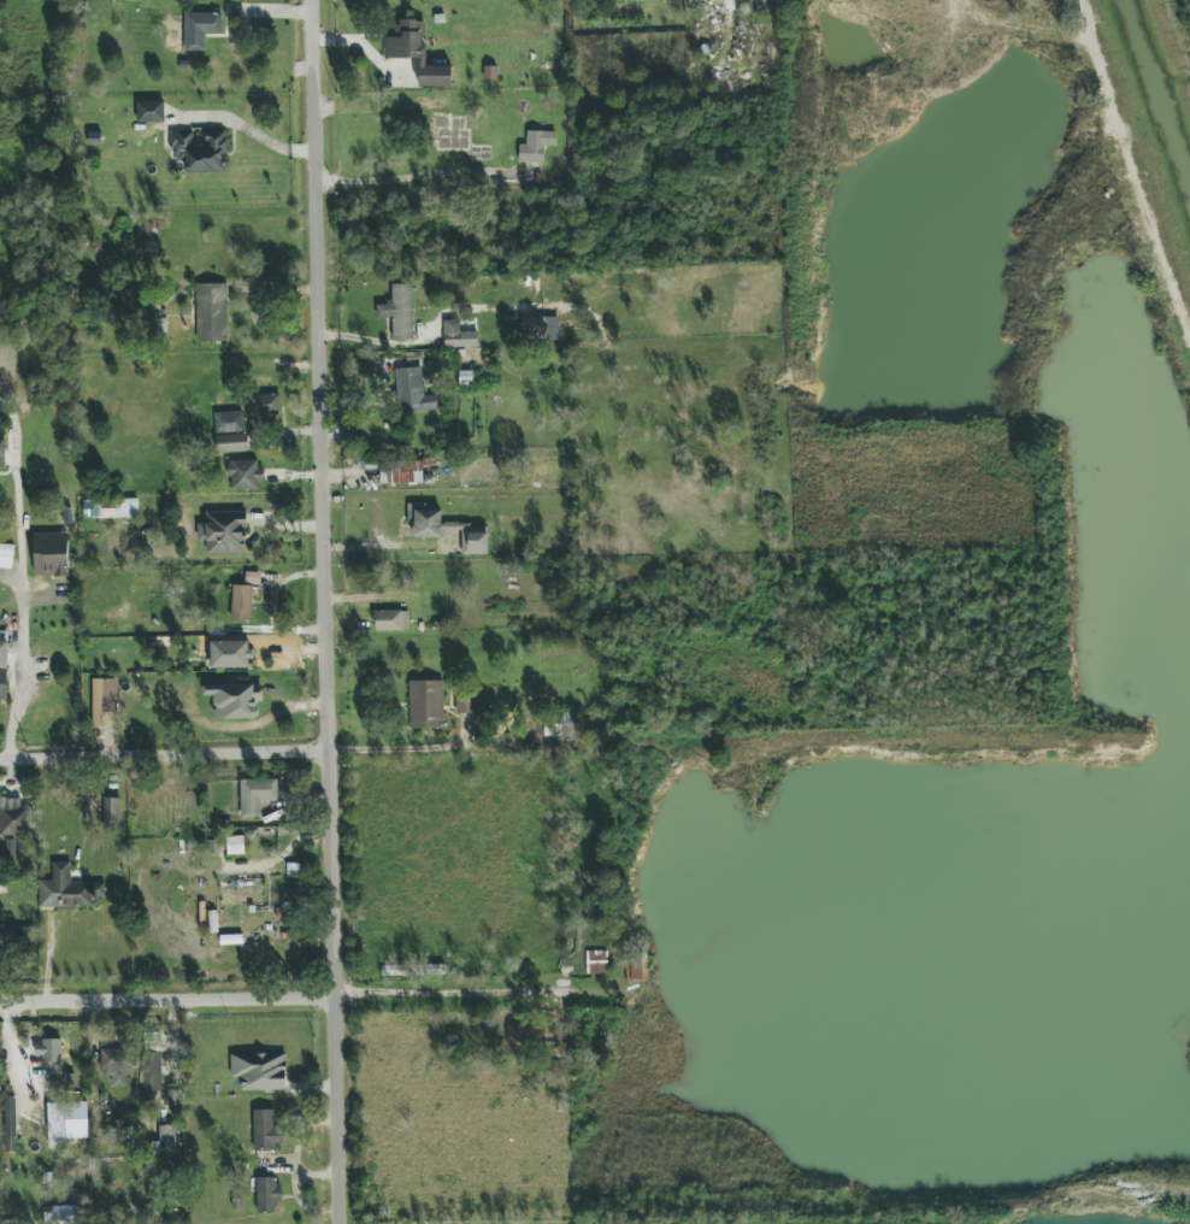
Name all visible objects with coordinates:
building: (200, 29)
building: (417, 53)
building: (151, 111)
road: (260, 134)
building: (536, 146)
building: (200, 151)
road: (413, 176)
building: (400, 311)
building: (211, 312)
building: (541, 328)
building: (458, 335)
building: (413, 392)
road: (11, 402)
building: (266, 404)
building: (229, 422)
building: (231, 443)
building: (2, 448)
building: (400, 471)
building: (245, 475)
building: (111, 507)
building: (424, 522)
building: (224, 532)
building: (471, 537)
building: (51, 554)
building: (6, 555)
building: (253, 577)
building: (241, 602)
road: (20, 608)
road: (326, 612)
building: (391, 620)
building: (230, 654)
building: (4, 672)
building: (235, 700)
building: (466, 701)
building: (98, 702)
building: (426, 705)
building: (560, 725)
road: (387, 749)
road: (164, 754)
building: (255, 796)
building: (111, 811)
building: (12, 817)
building: (10, 849)
building: (67, 889)
building: (241, 895)
building: (7, 931)
building: (596, 961)
building: (636, 967)
road: (401, 995)
building: (49, 1053)
building: (113, 1065)
building: (260, 1071)
building: (151, 1076)
building: (66, 1122)
building: (7, 1124)
building: (264, 1130)
building: (170, 1148)
building: (267, 1195)

